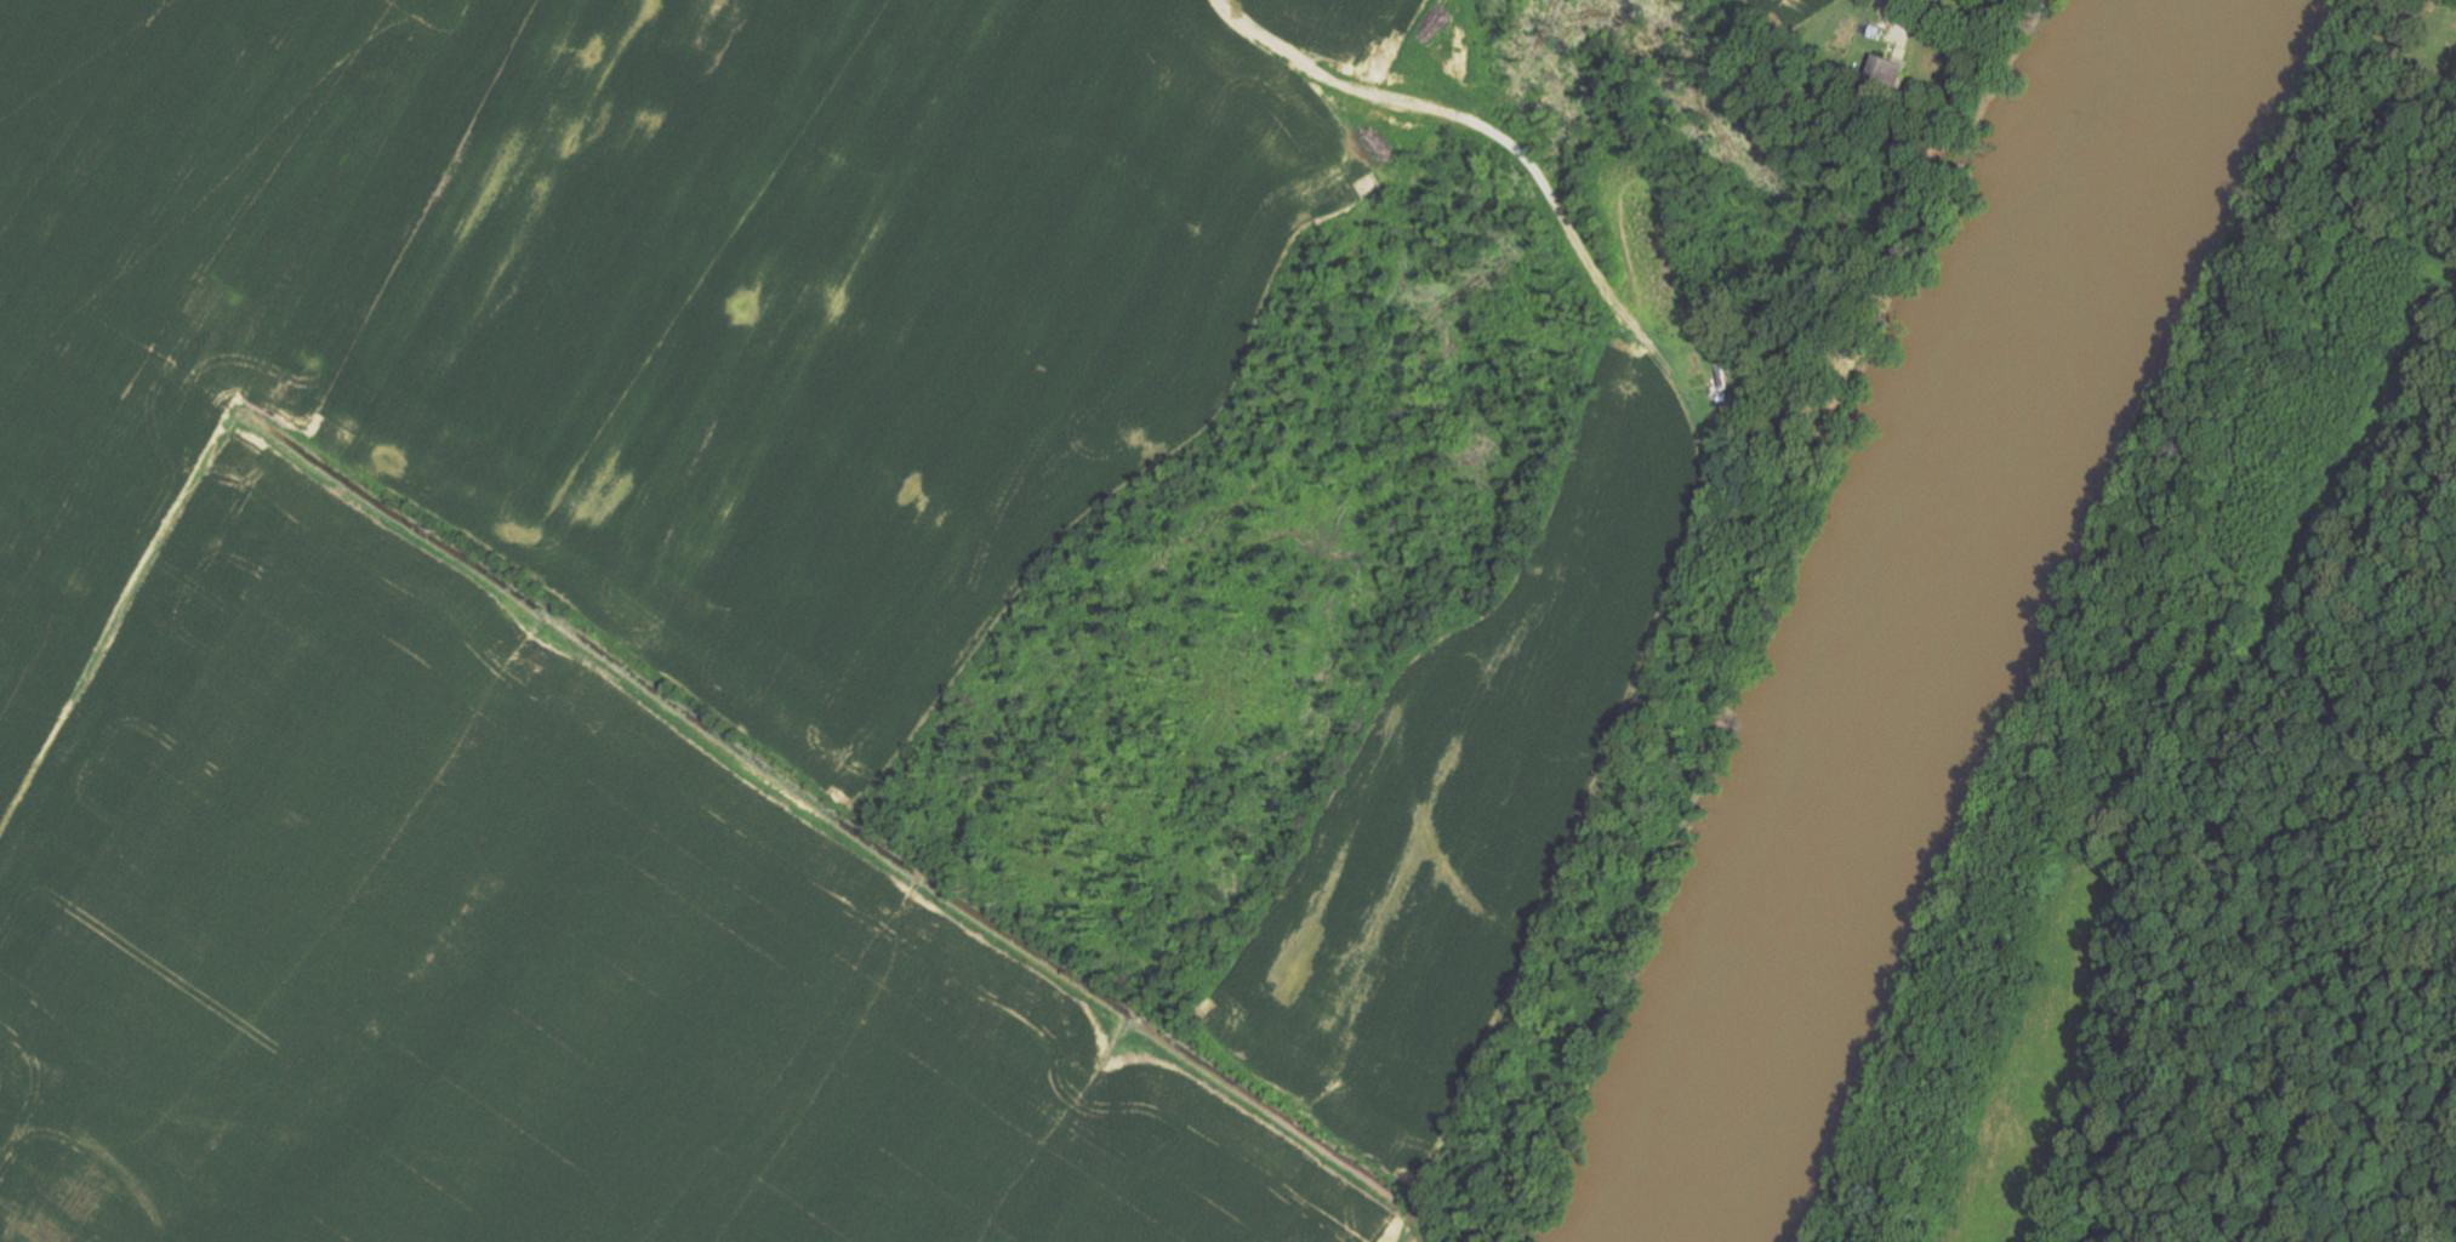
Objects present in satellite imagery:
river: (1901, 620)

